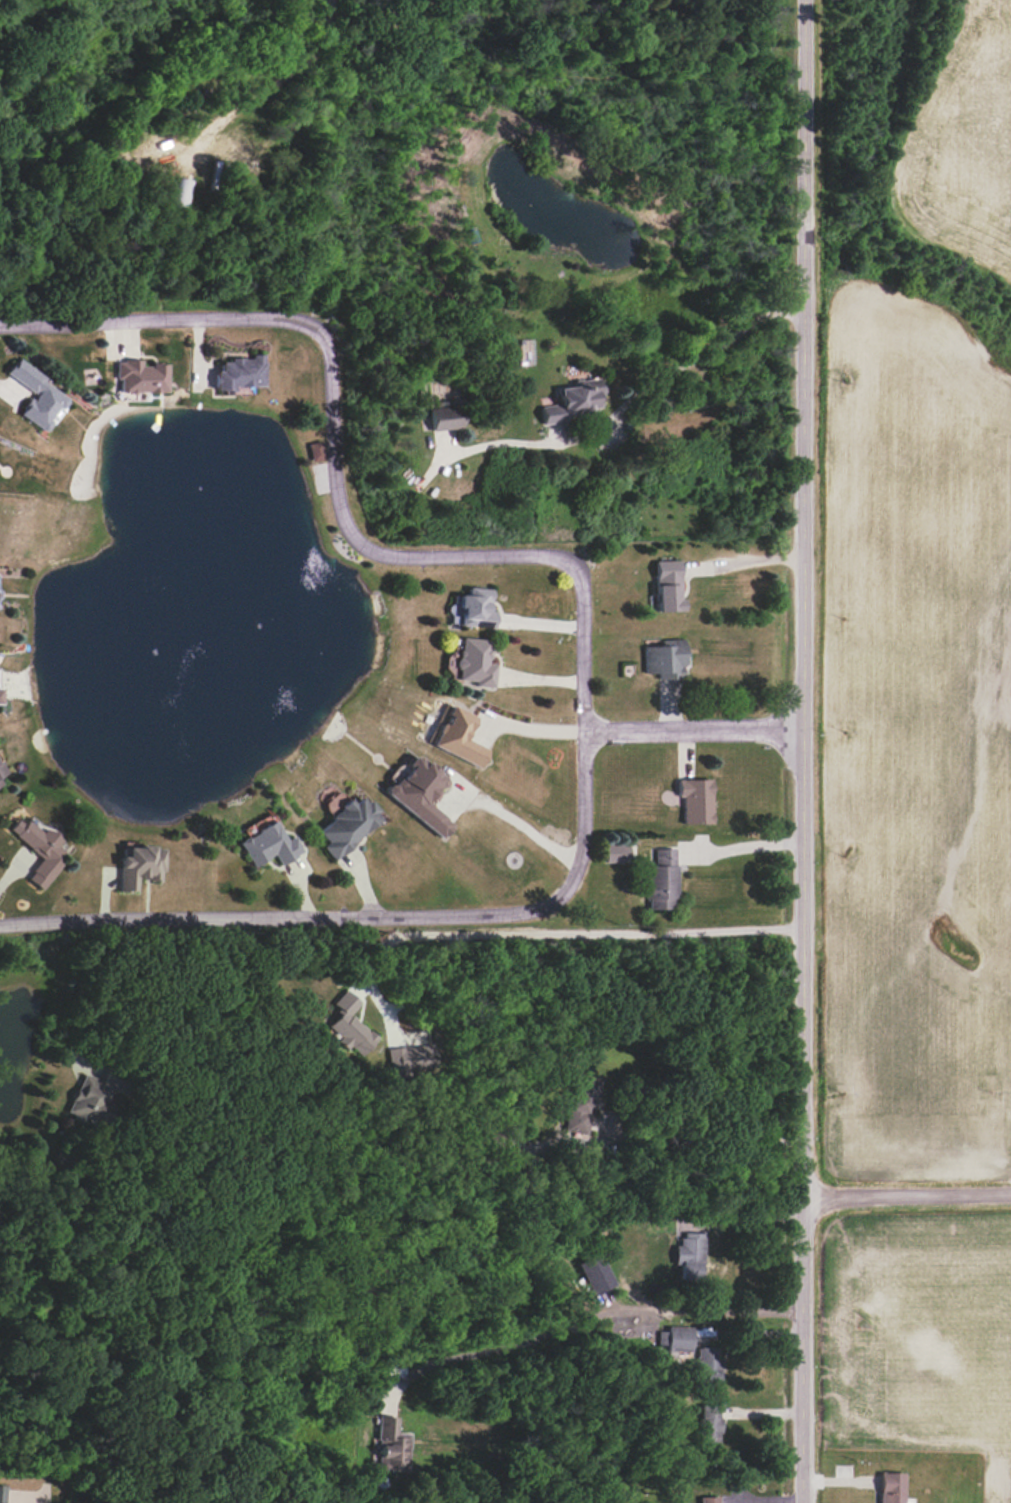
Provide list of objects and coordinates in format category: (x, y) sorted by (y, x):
road: (292, 71)
building: (239, 374)
road: (668, 375)
building: (141, 376)
building: (38, 396)
building: (573, 400)
building: (445, 417)
building: (317, 450)
road: (743, 559)
building: (667, 586)
building: (476, 608)
road: (584, 633)
building: (665, 659)
building: (475, 662)
building: (1, 696)
road: (534, 729)
road: (695, 729)
building: (458, 737)
road: (804, 751)
building: (1, 771)
building: (0, 783)
building: (420, 794)
building: (695, 800)
building: (348, 826)
road: (522, 826)
building: (269, 845)
building: (41, 848)
road: (743, 849)
building: (618, 852)
building: (140, 866)
building: (660, 880)
road: (505, 935)
building: (350, 1024)
building: (411, 1057)
building: (85, 1095)
building: (581, 1104)
road: (674, 1139)
road: (906, 1194)
road: (749, 1217)
building: (689, 1256)
building: (594, 1273)
road: (592, 1315)
building: (675, 1338)
building: (705, 1367)
building: (707, 1426)
building: (391, 1445)
building: (890, 1487)
building: (672, 1490)
building: (1, 1494)
road: (44, 1500)

